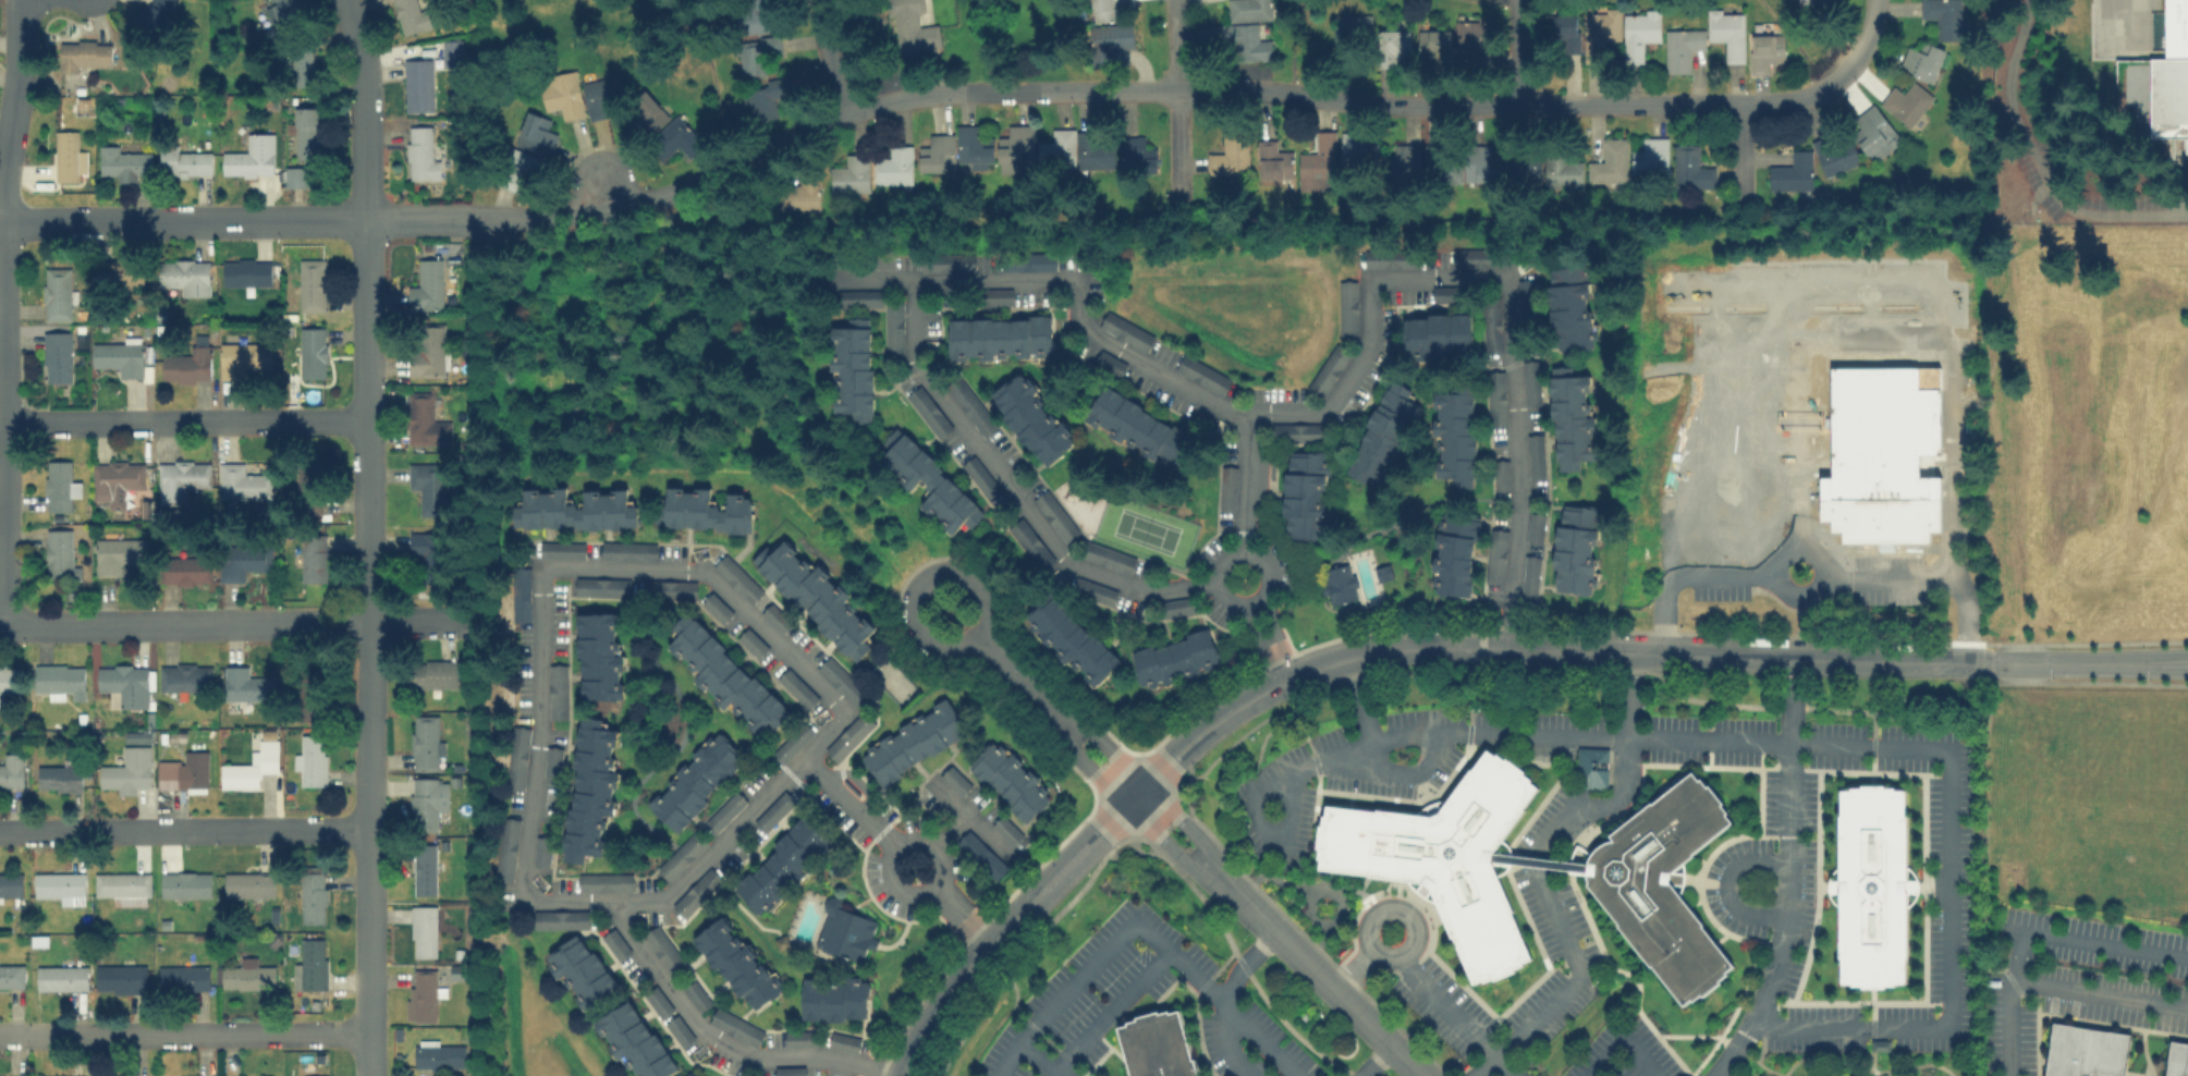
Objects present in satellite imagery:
building: (1817, 0)
building: (1109, 9)
building: (1248, 9)
building: (284, 10)
building: (408, 15)
building: (154, 16)
building: (1943, 16)
building: (912, 26)
building: (1350, 30)
building: (1563, 30)
building: (1599, 30)
building: (1727, 32)
building: (1639, 33)
road: (1868, 36)
building: (1111, 37)
building: (1470, 38)
building: (1437, 39)
building: (1239, 40)
building: (1392, 46)
building: (1680, 47)
building: (1764, 50)
building: (452, 52)
road: (1519, 52)
building: (84, 53)
building: (756, 54)
road: (827, 57)
building: (1921, 61)
building: (303, 69)
building: (418, 85)
road: (1178, 86)
building: (2156, 88)
building: (562, 94)
road: (917, 94)
building: (600, 97)
building: (766, 98)
building: (1905, 101)
building: (646, 111)
building: (305, 132)
building: (1874, 132)
building: (535, 133)
building: (673, 138)
building: (1016, 143)
building: (974, 145)
building: (1357, 148)
building: (1075, 149)
building: (420, 152)
building: (939, 154)
building: (1230, 154)
road: (1740, 154)
building: (66, 155)
building: (1136, 155)
building: (1834, 155)
building: (1651, 156)
building: (250, 157)
building: (1318, 158)
building: (1433, 158)
building: (1272, 159)
building: (1408, 160)
building: (185, 161)
building: (1609, 161)
building: (123, 163)
road: (2038, 163)
building: (894, 167)
building: (1524, 167)
building: (1690, 167)
building: (512, 169)
building: (1563, 171)
building: (1792, 172)
building: (849, 174)
building: (296, 176)
parking lot: (2070, 179)
building: (797, 195)
building: (1478, 256)
building: (1391, 258)
building: (1028, 260)
building: (950, 262)
building: (245, 271)
building: (124, 273)
building: (185, 276)
building: (311, 284)
building: (426, 285)
building: (56, 293)
building: (995, 295)
building: (858, 297)
building: (1526, 302)
building: (1347, 307)
building: (1569, 307)
road: (3, 311)
building: (1491, 325)
building: (893, 328)
building: (1126, 330)
building: (1437, 334)
road: (1935, 335)
building: (999, 338)
building: (428, 351)
building: (311, 352)
building: (57, 356)
building: (119, 356)
building: (241, 357)
building: (1110, 362)
building: (187, 364)
building: (852, 368)
road: (1348, 368)
building: (1329, 369)
building: (1202, 374)
building: (1531, 381)
building: (1495, 396)
building: (969, 405)
building: (928, 409)
road: (185, 417)
building: (420, 417)
building: (1032, 417)
building: (1570, 417)
building: (1138, 427)
building: (1383, 433)
building: (1454, 433)
building: (1881, 455)
building: (1533, 456)
building: (1500, 474)
building: (115, 479)
building: (180, 479)
road: (1246, 481)
building: (241, 482)
building: (930, 482)
building: (57, 485)
building: (310, 486)
building: (427, 486)
road: (1011, 486)
building: (1227, 488)
building: (1304, 493)
building: (574, 509)
building: (704, 510)
building: (1056, 516)
building: (1535, 527)
park: (1146, 528)
road: (365, 536)
building: (1030, 543)
building: (567, 549)
building: (627, 550)
building: (1575, 550)
building: (59, 553)
building: (117, 553)
building: (1454, 553)
building: (1495, 553)
road: (1220, 554)
building: (1107, 555)
building: (427, 557)
building: (313, 559)
building: (241, 560)
building: (183, 570)
road: (1823, 571)
road: (1683, 573)
building: (1529, 576)
road: (1887, 576)
building: (737, 577)
road: (918, 582)
building: (1337, 583)
building: (600, 586)
building: (669, 588)
building: (520, 594)
building: (1101, 594)
building: (815, 595)
building: (1175, 606)
building: (719, 610)
road: (233, 622)
road: (539, 629)
building: (1072, 638)
road: (1272, 640)
building: (754, 645)
road: (1536, 648)
building: (599, 655)
building: (1174, 658)
road: (1280, 658)
road: (2087, 661)
building: (433, 673)
building: (180, 676)
building: (726, 676)
building: (10, 680)
building: (60, 680)
building: (841, 680)
park: (893, 681)
building: (125, 682)
building: (246, 684)
building: (310, 688)
building: (557, 690)
road: (1358, 697)
building: (848, 736)
building: (914, 741)
road: (1774, 741)
building: (425, 742)
building: (793, 743)
building: (517, 757)
building: (310, 759)
building: (551, 761)
building: (250, 766)
building: (1590, 766)
road: (1398, 769)
building: (12, 770)
building: (127, 771)
building: (183, 772)
road: (1625, 775)
building: (58, 777)
building: (1010, 779)
building: (696, 780)
building: (955, 780)
building: (591, 787)
building: (426, 800)
building: (724, 810)
building: (770, 814)
road: (970, 819)
road: (183, 830)
road: (951, 830)
building: (1006, 830)
road: (934, 845)
building: (506, 847)
building: (541, 852)
building: (681, 855)
building: (982, 855)
road: (1194, 856)
building: (1444, 857)
building: (1537, 860)
road: (1540, 861)
building: (783, 865)
building: (424, 868)
road: (1787, 875)
building: (603, 881)
road: (1724, 881)
building: (184, 883)
building: (246, 884)
building: (1662, 884)
building: (1871, 884)
building: (10, 885)
building: (61, 887)
building: (122, 887)
building: (311, 893)
building: (694, 893)
fountain: (1323, 905)
road: (1406, 913)
road: (962, 916)
building: (560, 918)
road: (1005, 927)
building: (423, 930)
building: (844, 931)
road: (2030, 931)
building: (614, 943)
building: (664, 950)
building: (736, 962)
building: (309, 964)
building: (582, 971)
road: (1352, 973)
building: (247, 975)
building: (11, 976)
building: (183, 976)
building: (61, 977)
building: (120, 978)
fountain: (1276, 980)
road: (1075, 982)
road: (1568, 983)
road: (2098, 993)
building: (695, 994)
building: (421, 996)
building: (833, 998)
road: (1218, 999)
building: (658, 1001)
road: (1226, 1001)
road: (1109, 1010)
road: (1457, 1015)
building: (735, 1026)
building: (679, 1030)
road: (1623, 1036)
road: (183, 1037)
road: (716, 1038)
building: (798, 1039)
building: (636, 1041)
building: (843, 1042)
building: (1879, 1043)
building: (1156, 1044)
fountain: (1343, 1044)
road: (1868, 1047)
building: (2085, 1051)
building: (439, 1053)
road: (1038, 1059)
building: (2176, 1059)
road: (1006, 1060)
road: (1372, 1063)
road: (1758, 1063)
park: (1862, 1063)
road: (1865, 1069)
building: (791, 1071)
road: (1723, 1073)
road: (1052, 1074)
building: (684, 1075)
road: (1783, 1075)

